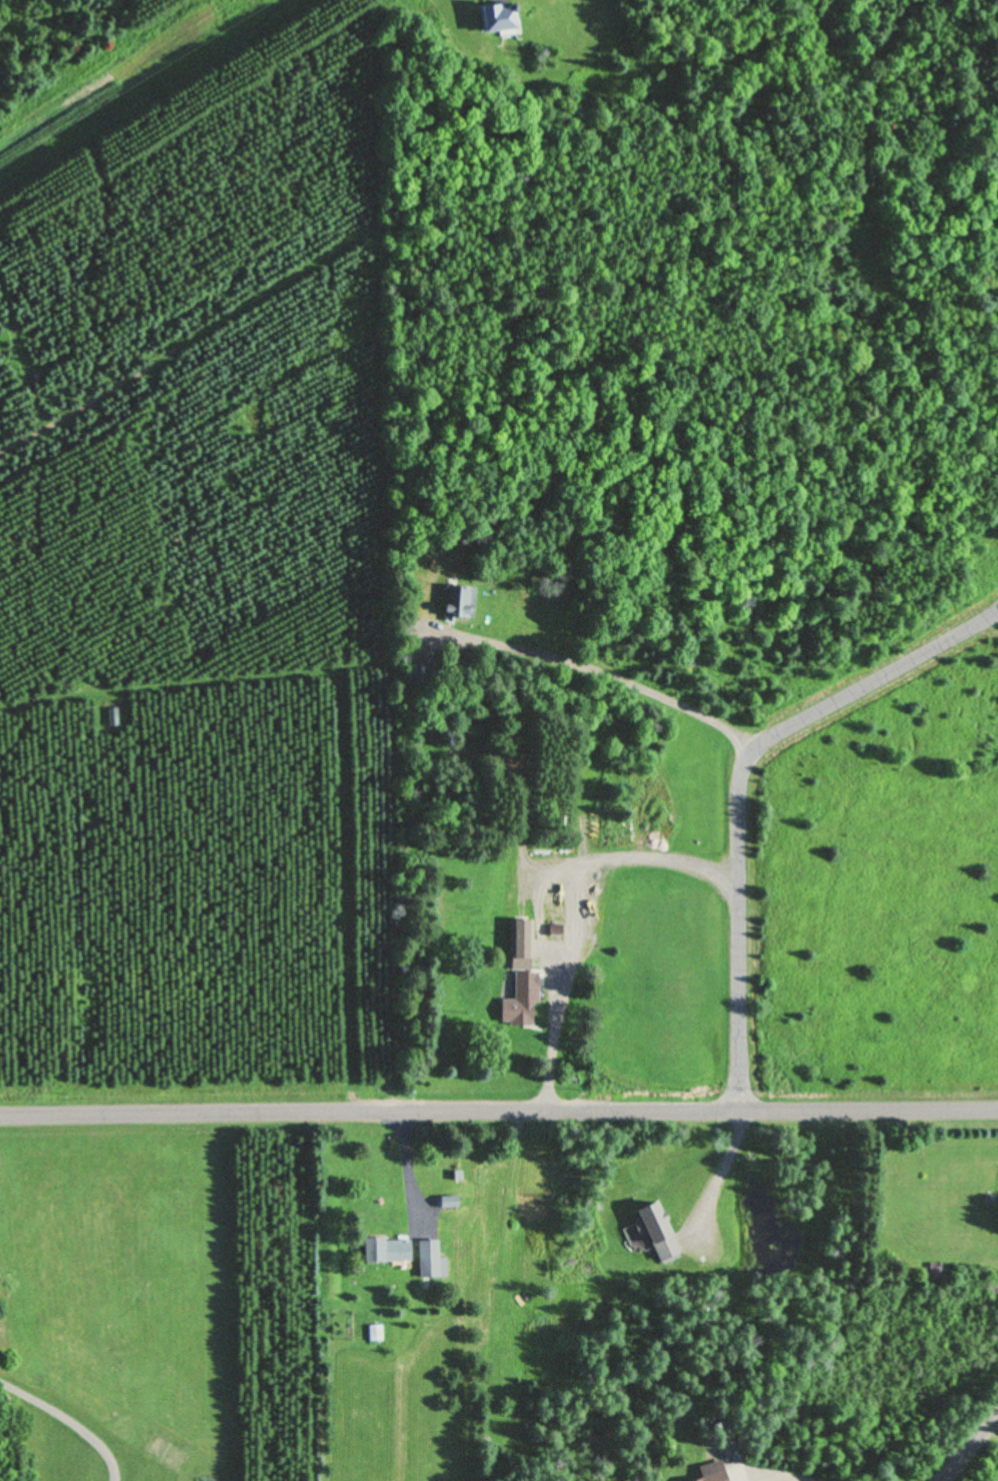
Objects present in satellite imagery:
building: (457, 602)
road: (739, 786)
building: (520, 980)
road: (499, 1109)
building: (655, 1231)
building: (385, 1251)
building: (429, 1261)
building: (934, 1274)
building: (374, 1333)
road: (967, 1448)
building: (710, 1472)

